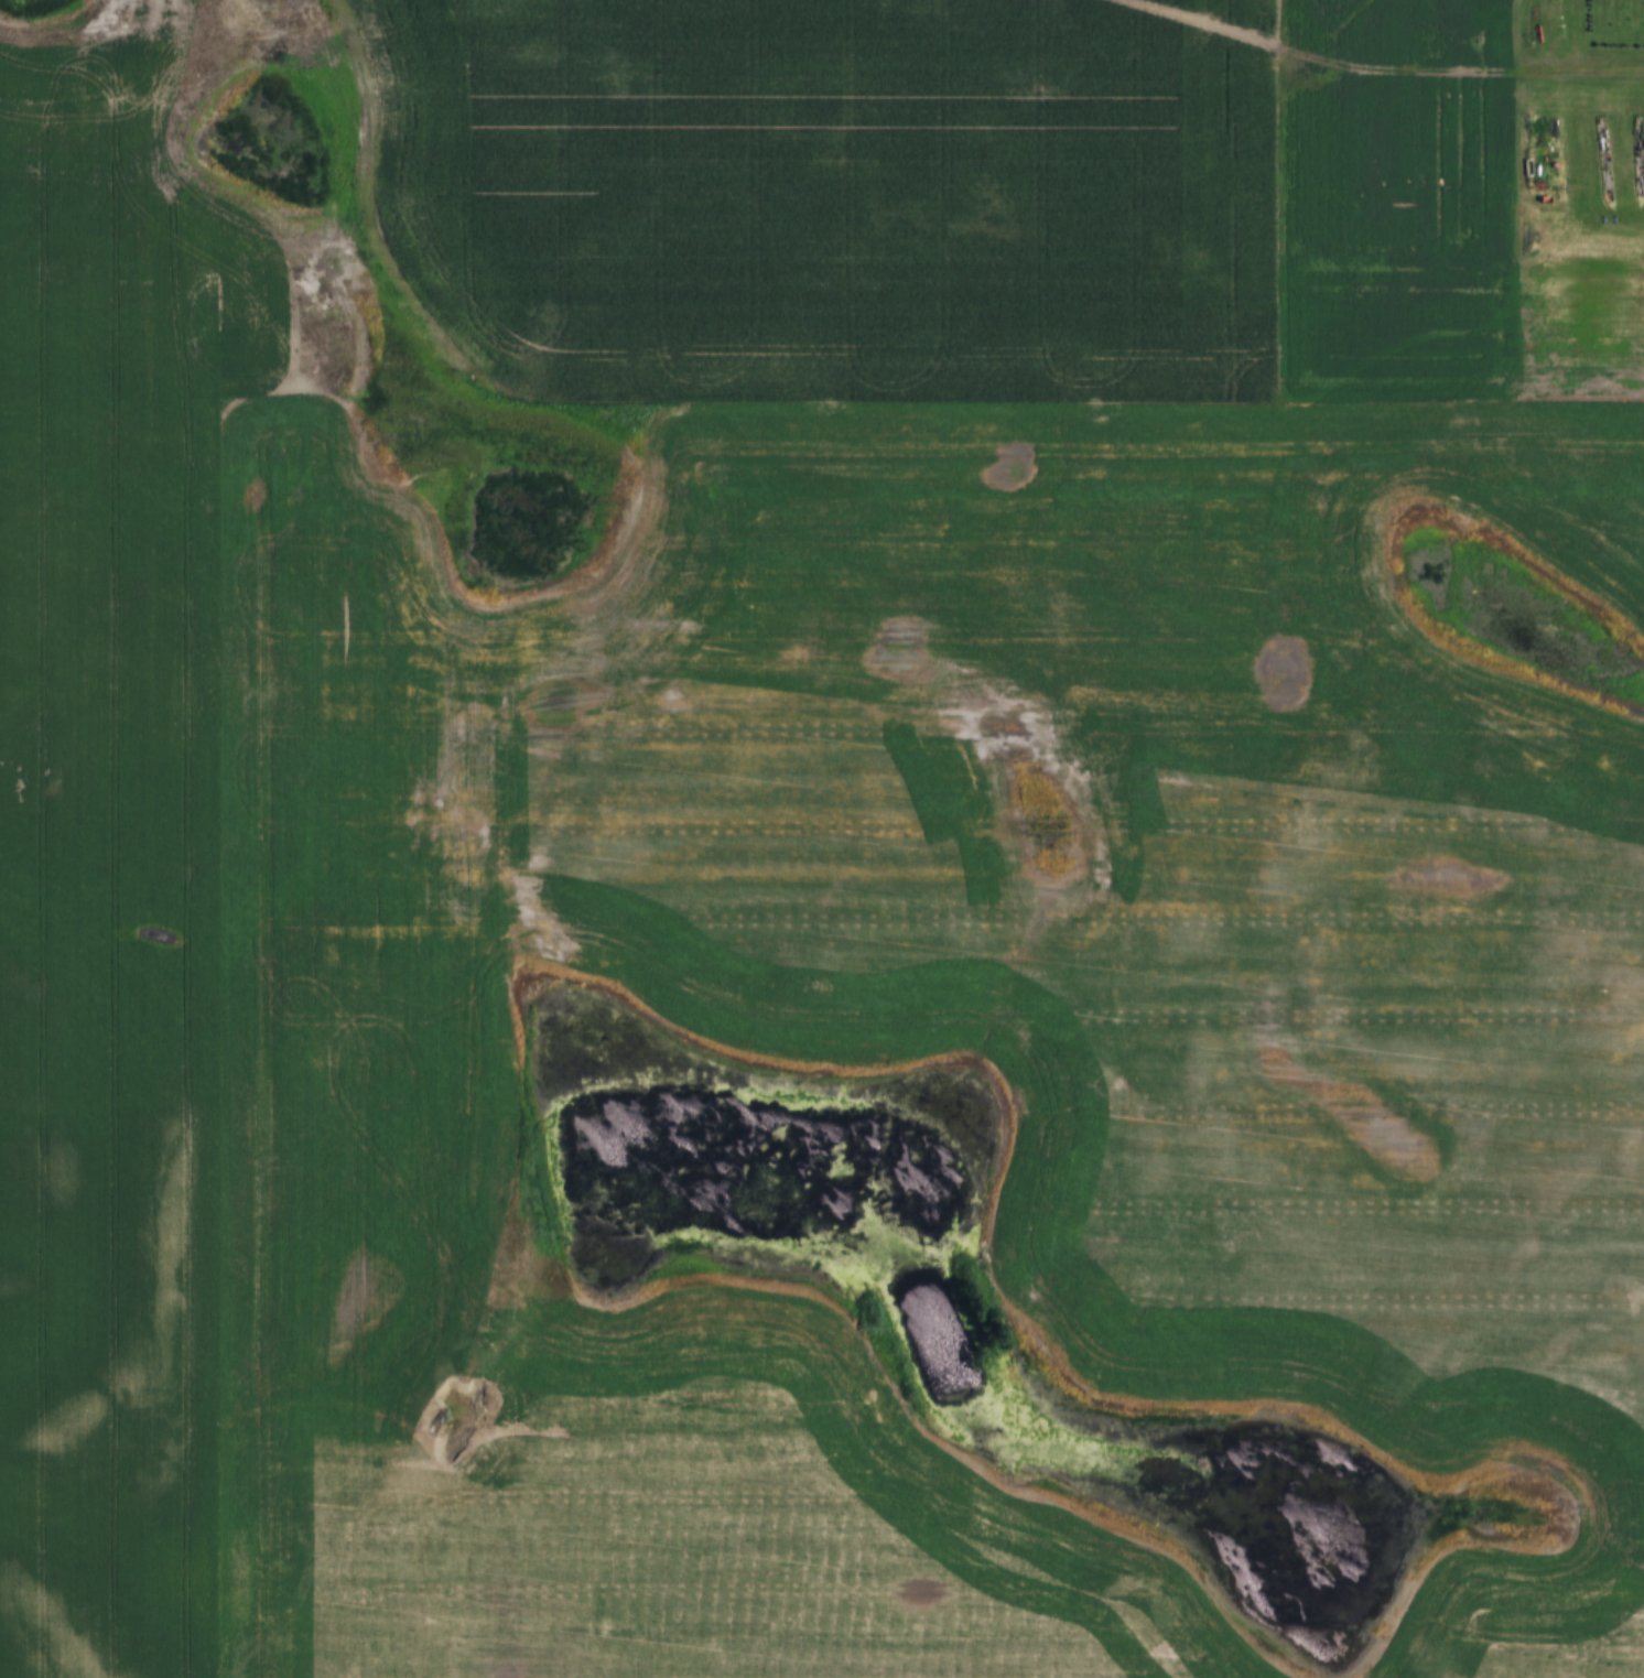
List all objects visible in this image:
building: (11, 1623)
building: (145, 1646)

